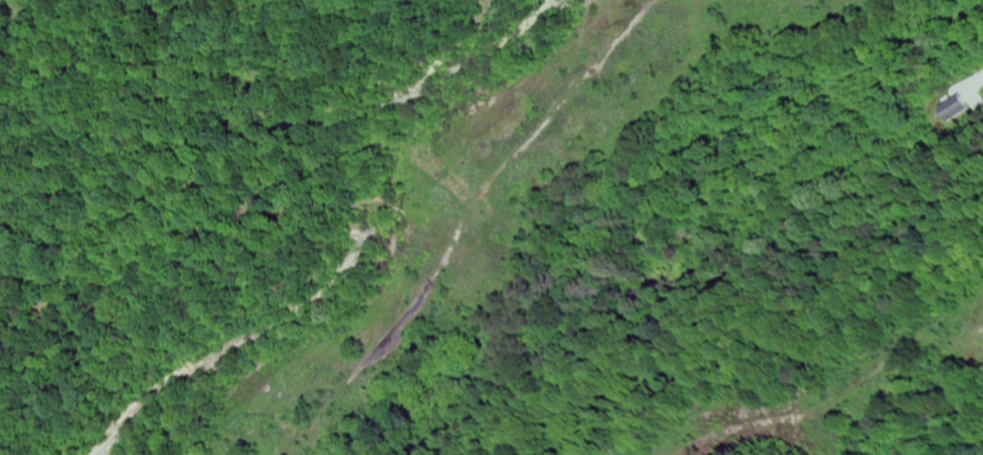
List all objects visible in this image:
building: (961, 110)

